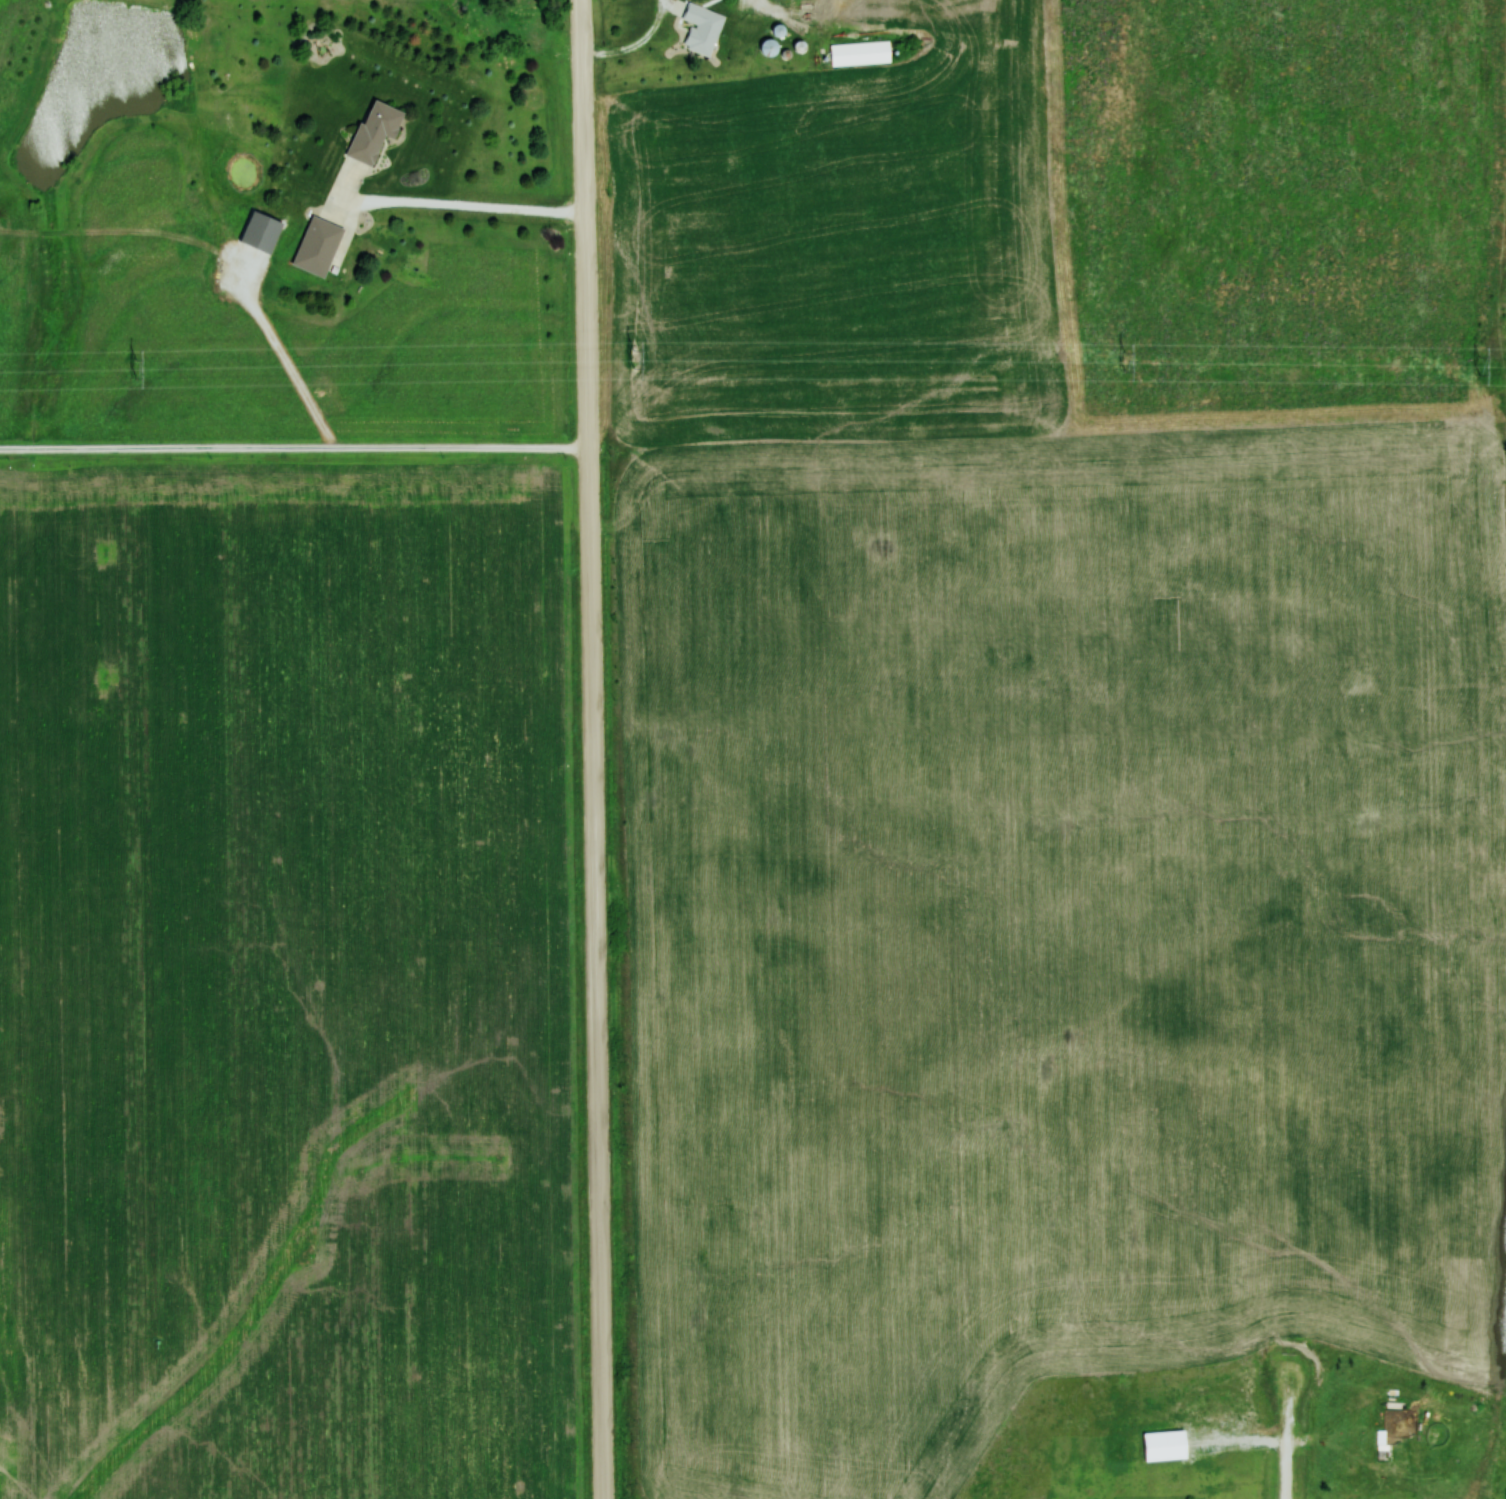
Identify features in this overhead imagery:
building: (698, 0)
building: (806, 12)
building: (768, 47)
building: (860, 53)
building: (374, 131)
building: (261, 231)
building: (318, 246)
power tower: (635, 355)
power tower: (1128, 355)
power tower: (137, 363)
power tower: (1480, 368)
road: (594, 749)
road: (1291, 1448)

